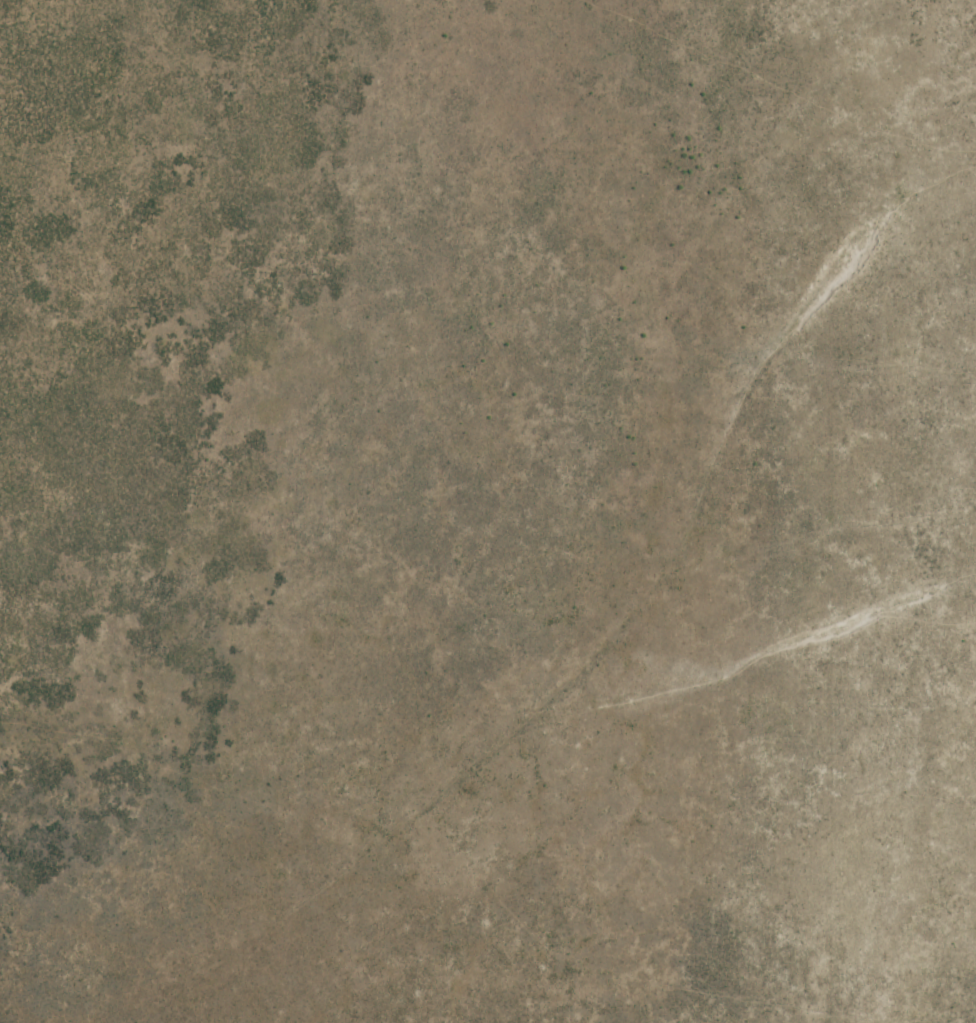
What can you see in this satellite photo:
road: (935, 1018)

